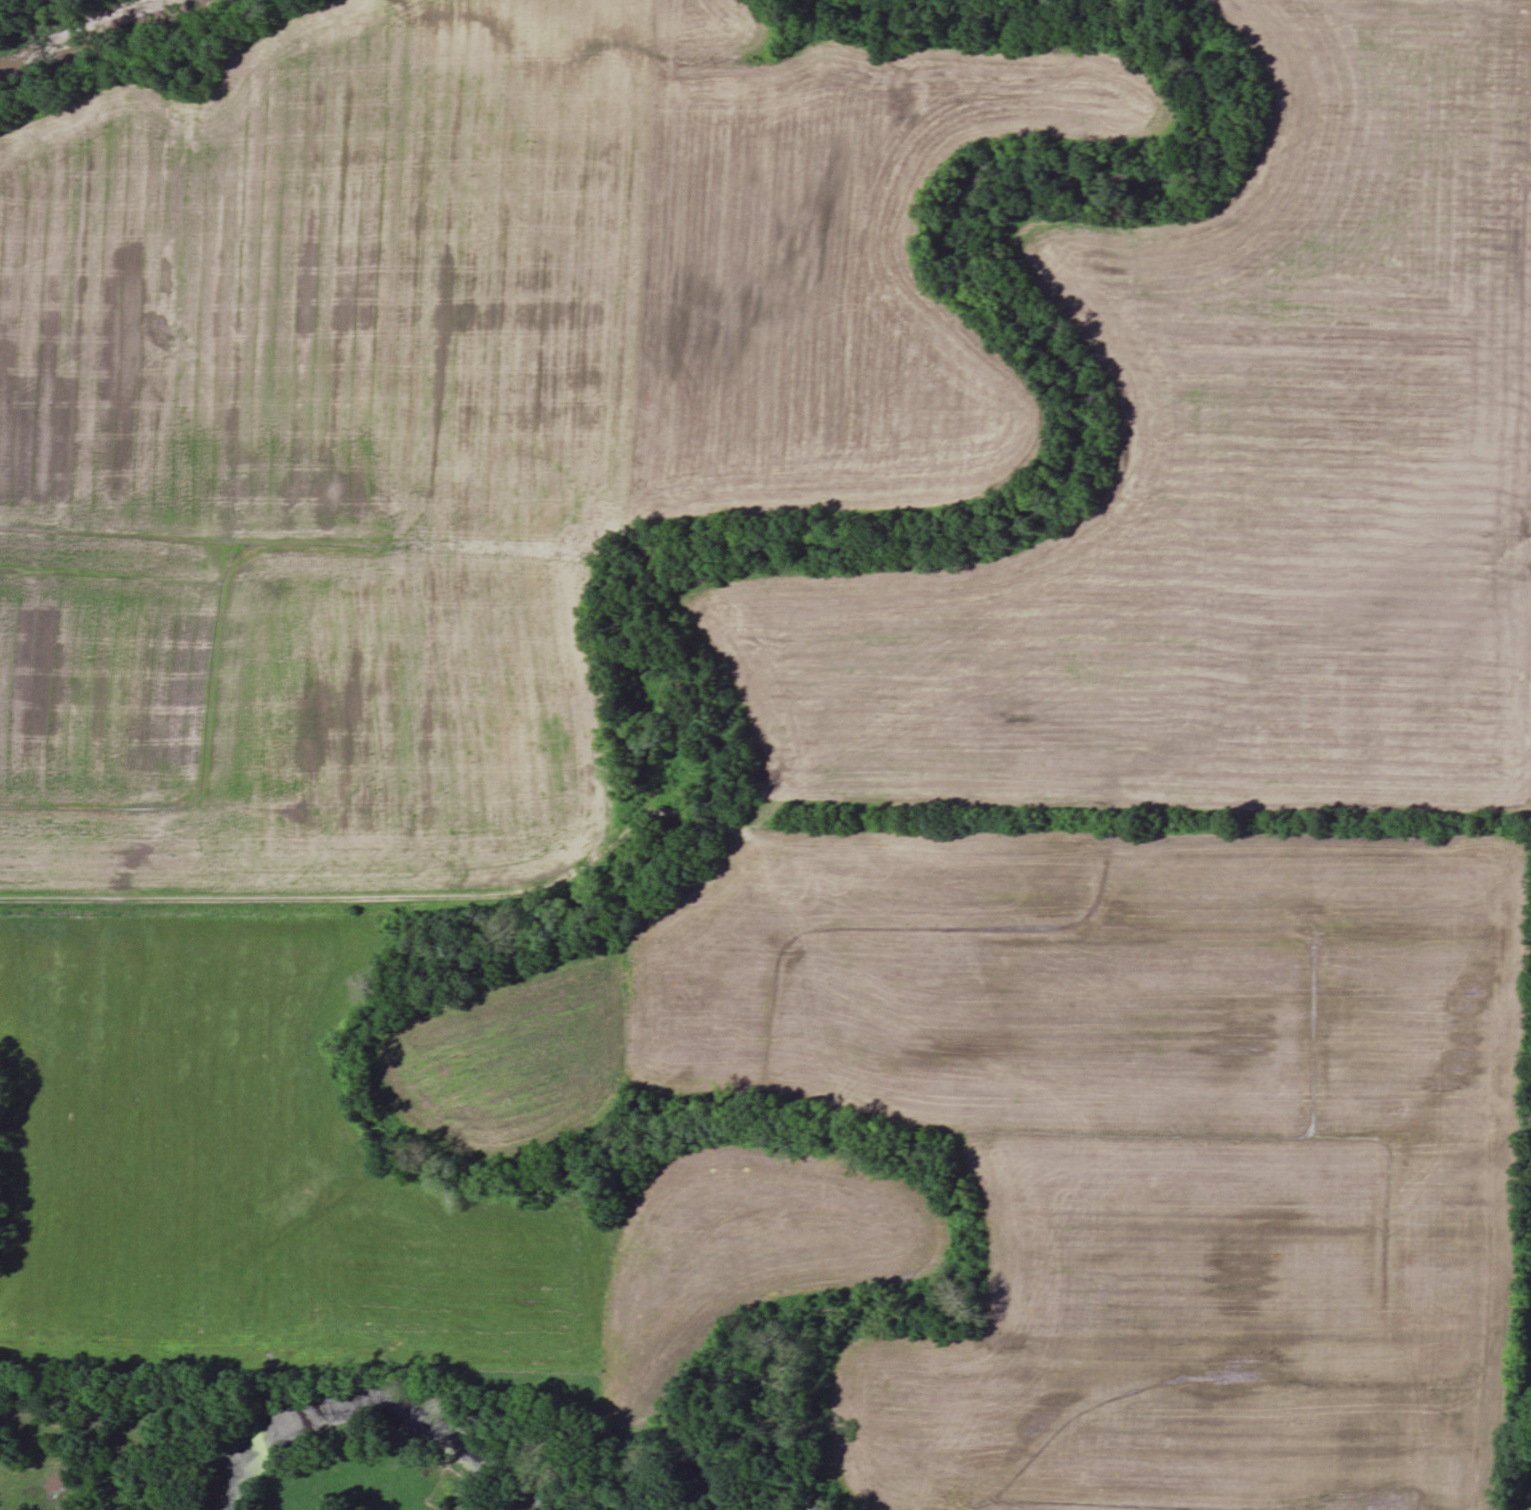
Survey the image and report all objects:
river: (89, 36)
crop: (452, 407)
crop: (1232, 481)
road: (322, 900)
crop: (1106, 1127)
crop: (349, 1187)
crop: (1530, 1228)

